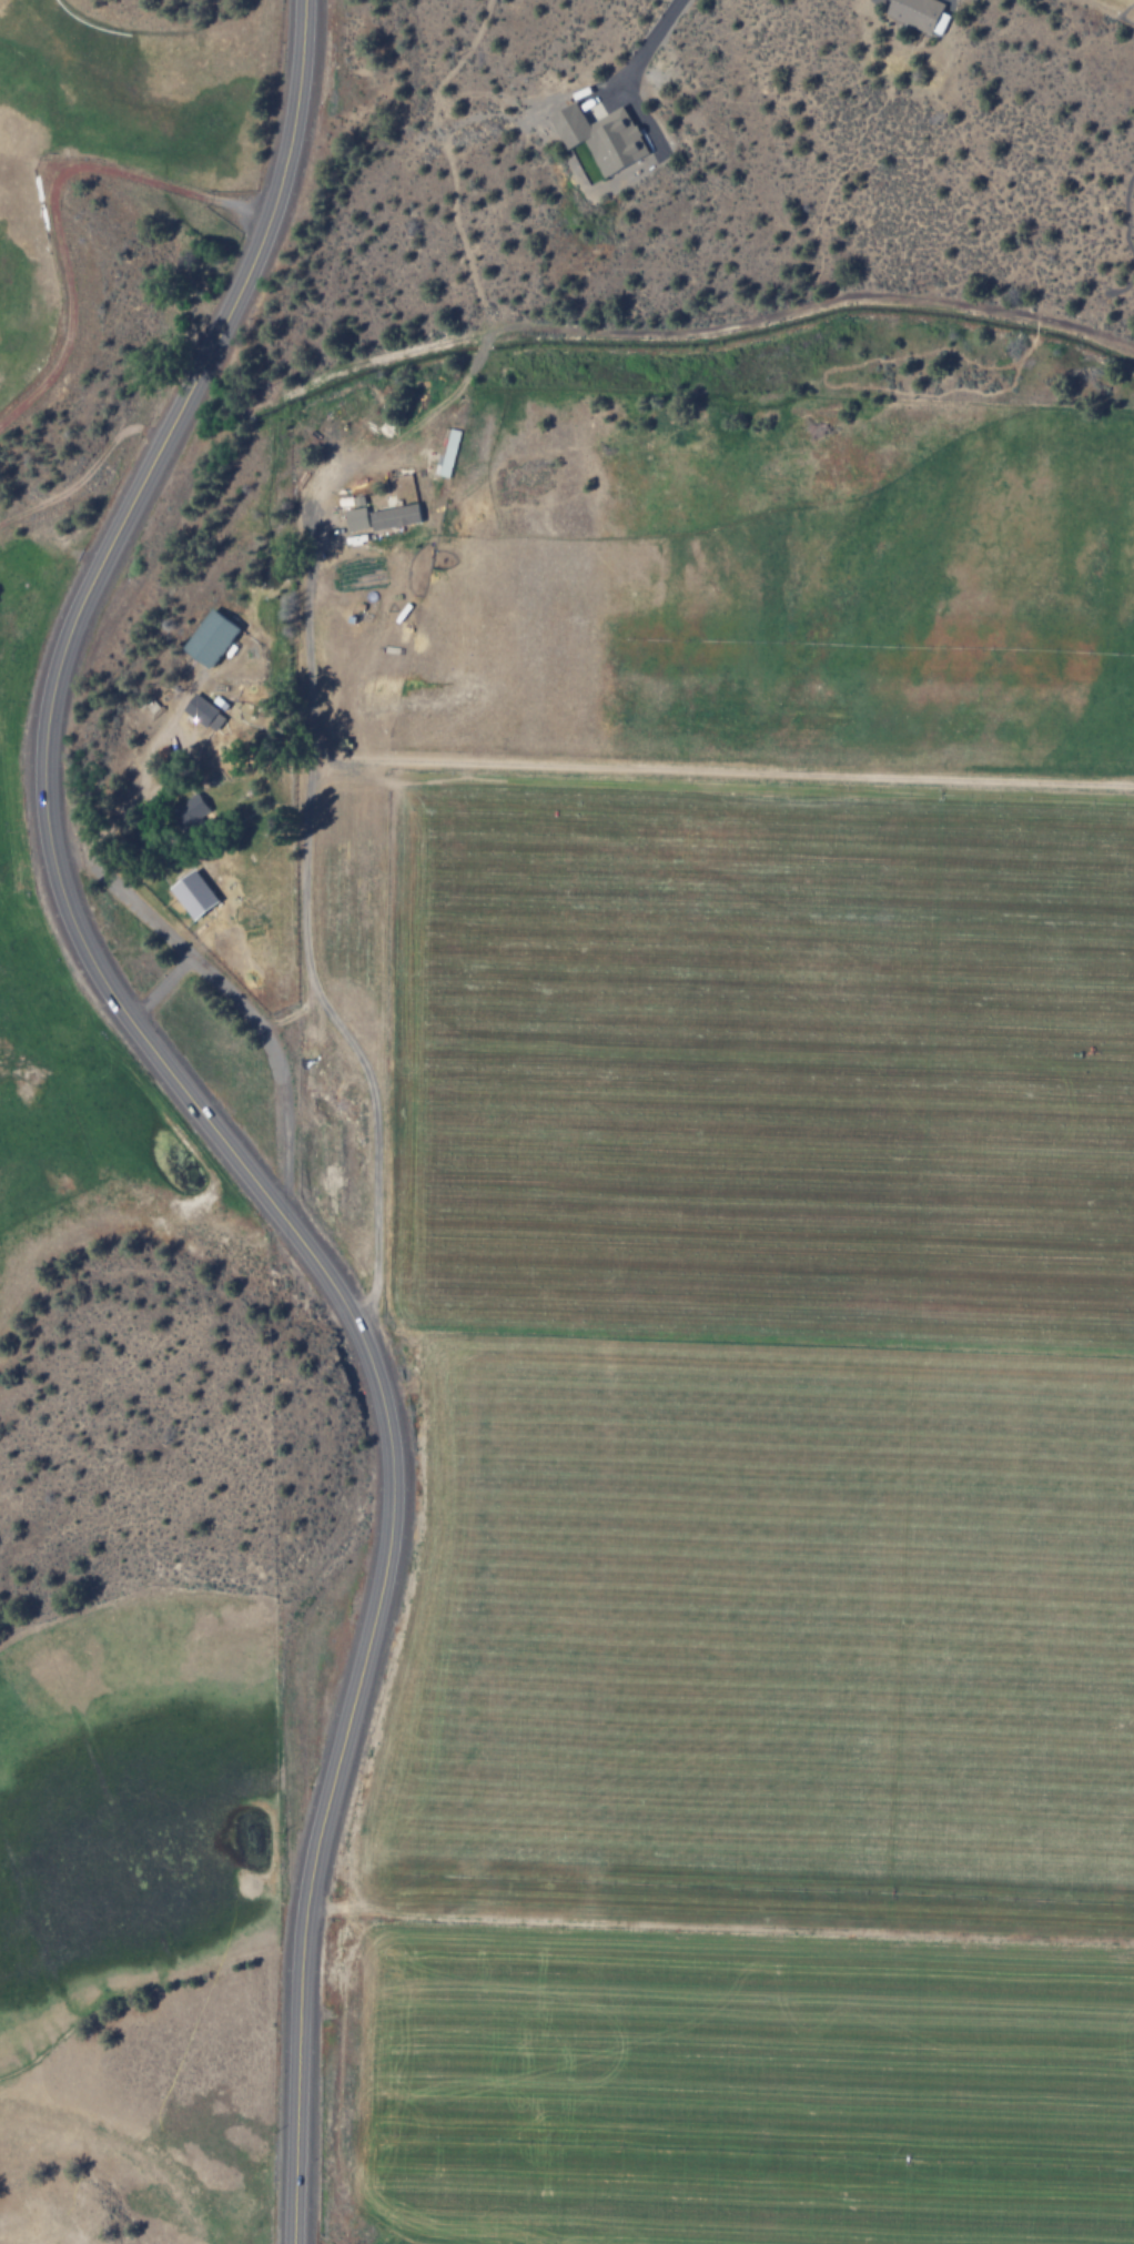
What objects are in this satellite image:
building: (912, 12)
building: (938, 22)
building: (596, 137)
crop: (90, 141)
building: (444, 453)
building: (391, 516)
building: (352, 518)
building: (205, 639)
building: (201, 712)
building: (185, 811)
building: (189, 894)
road: (195, 1108)
crop: (749, 1327)
crop: (152, 1911)

